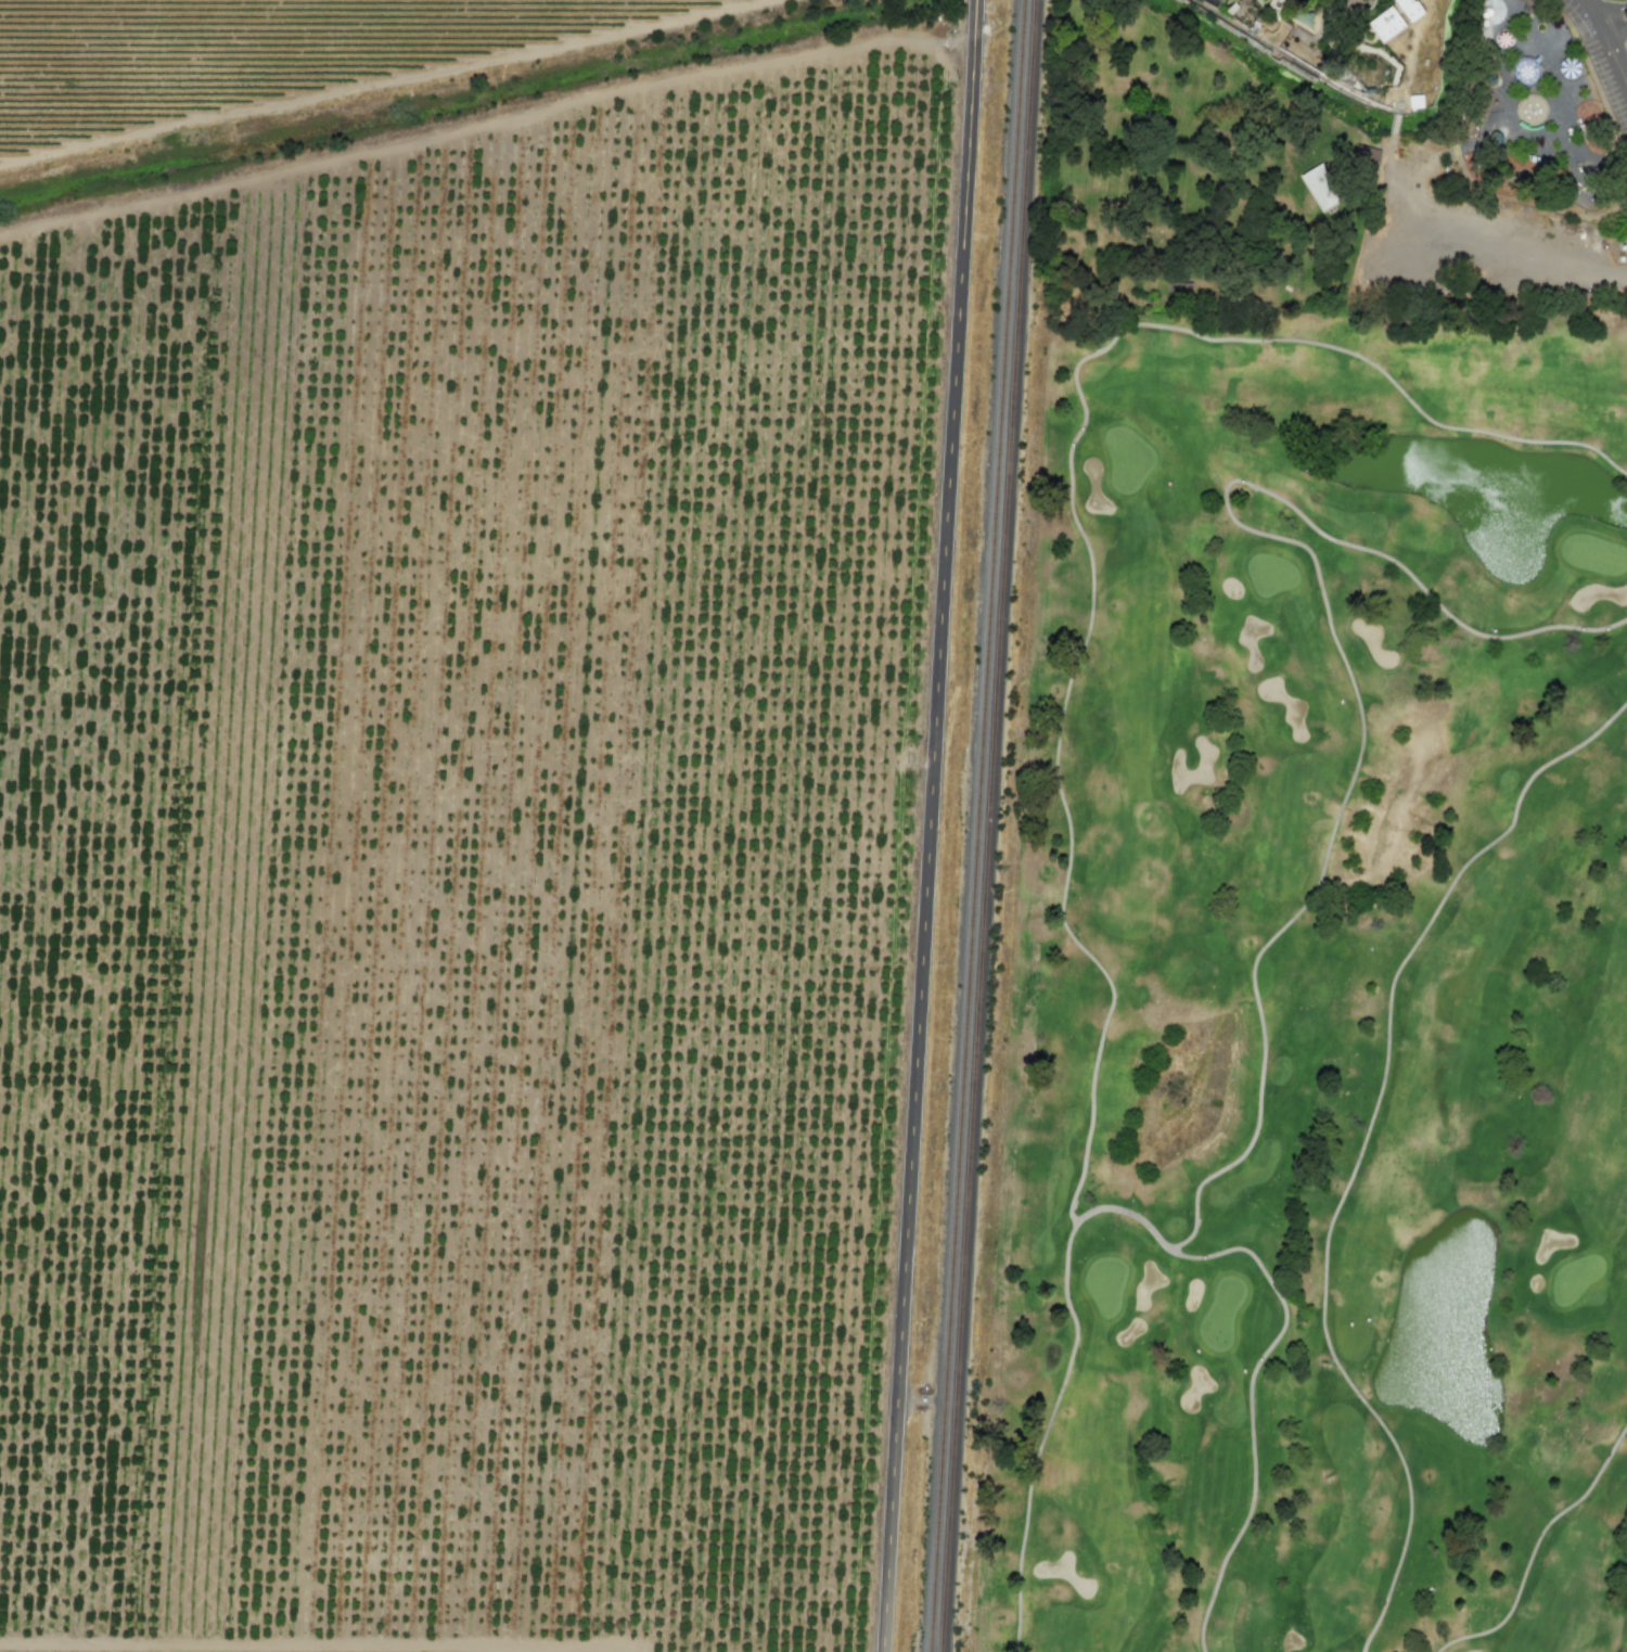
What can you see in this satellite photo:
building: (1410, 9)
road: (1593, 11)
road: (1619, 12)
road: (1620, 22)
building: (1386, 24)
building: (1502, 40)
road: (1610, 49)
theme park: (1538, 117)
park: (1332, 156)
building: (1365, 156)
building: (1322, 188)
building: (1180, 286)
road: (931, 825)
railway: (975, 825)
railway: (991, 825)
park: (1308, 993)

